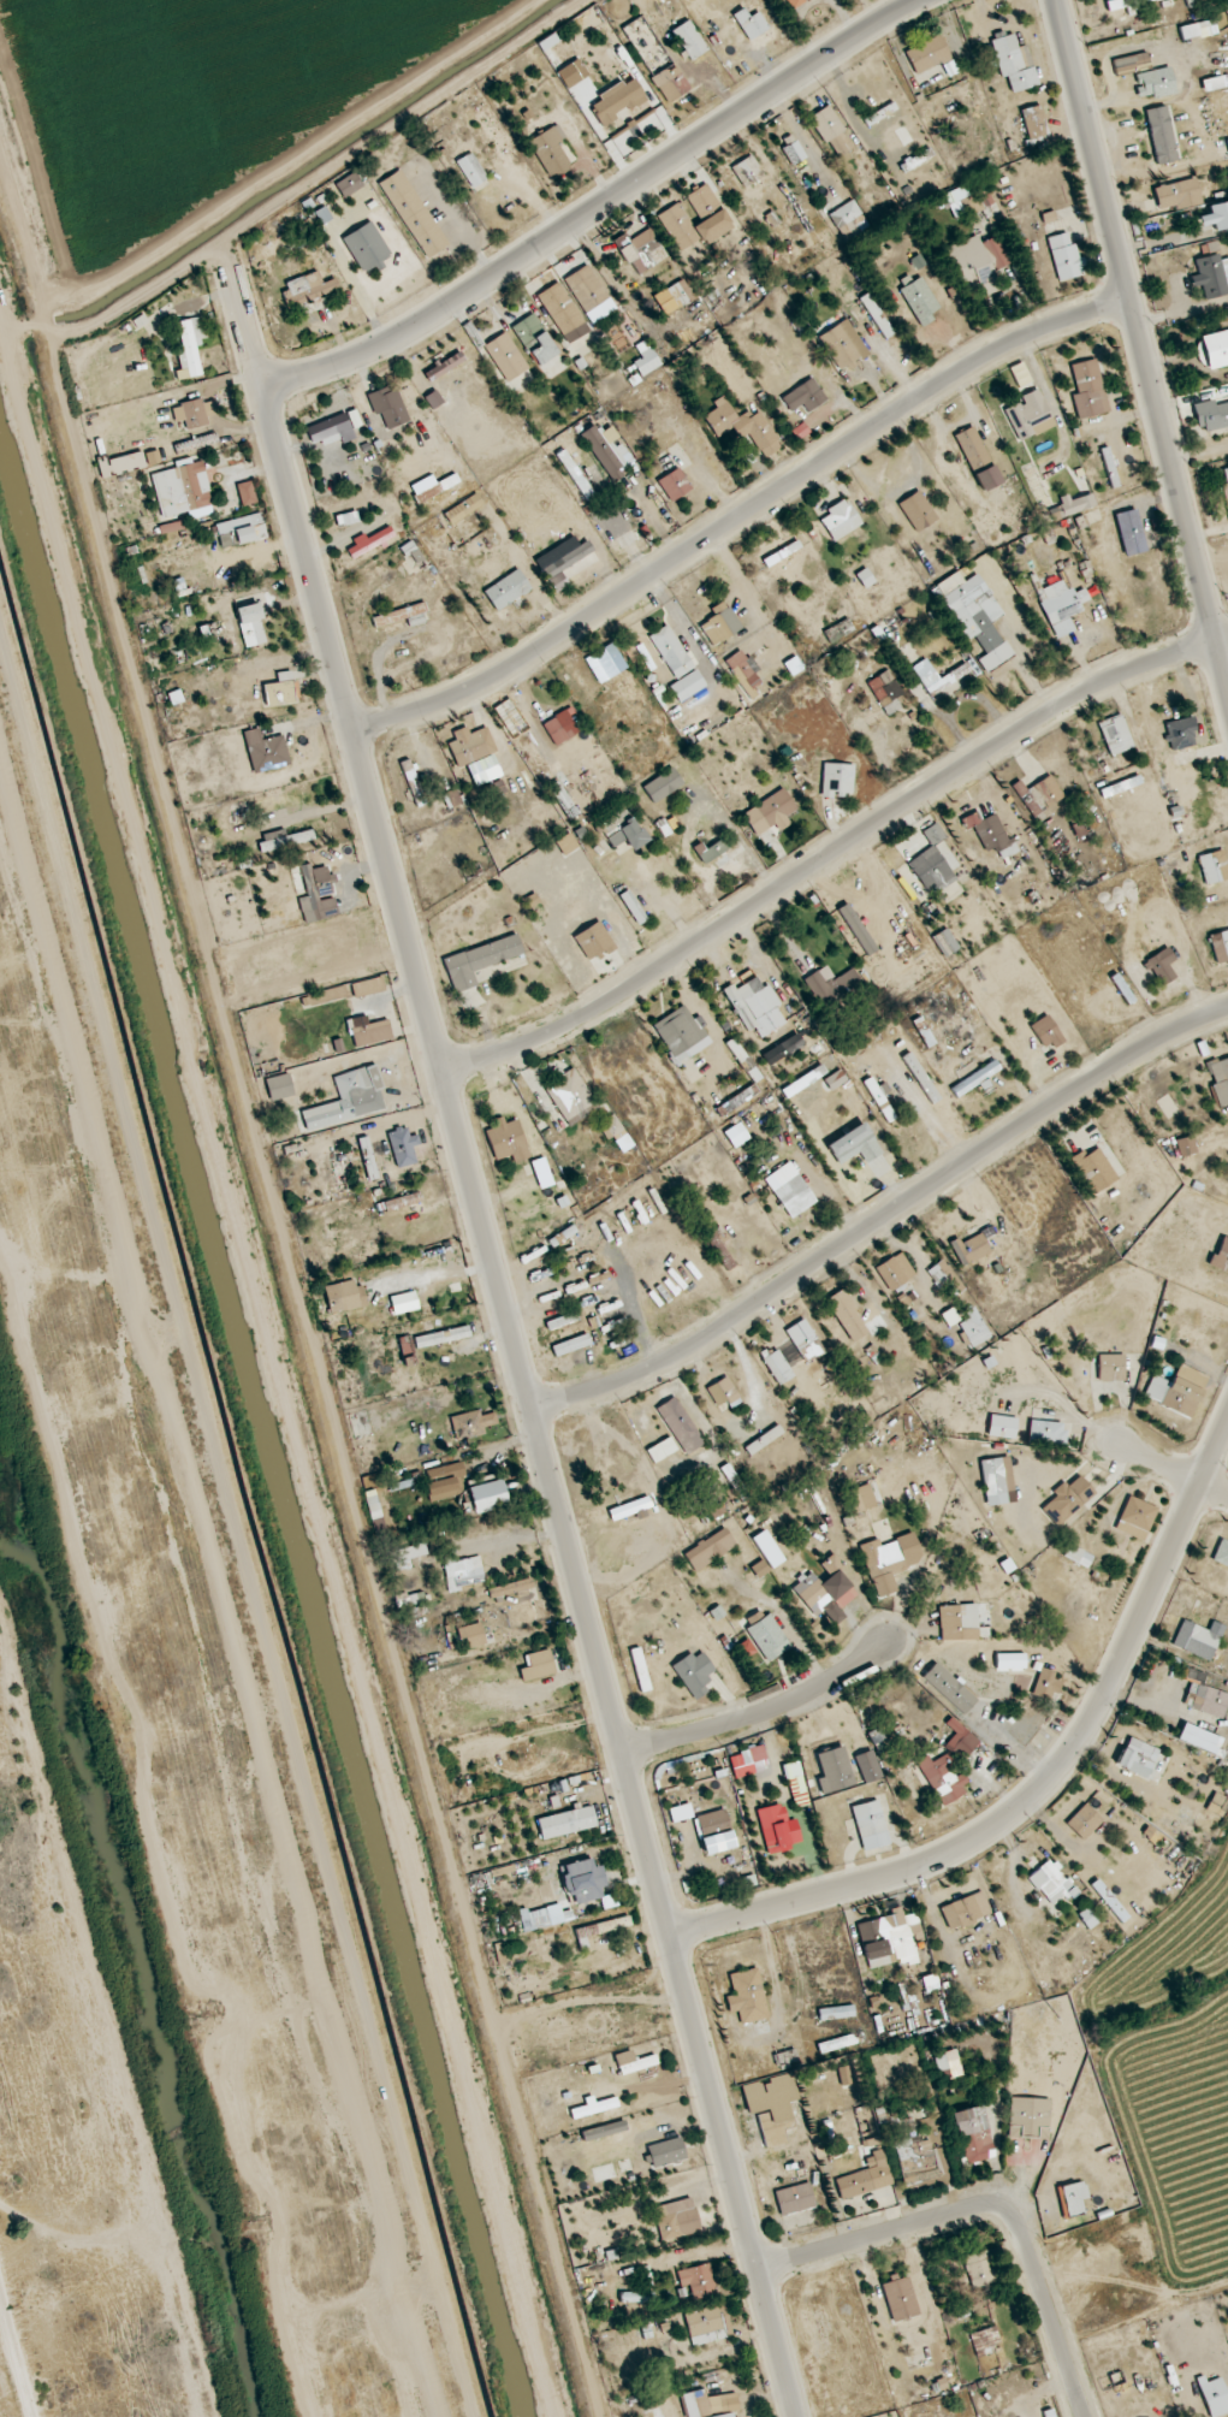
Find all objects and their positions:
building: (1193, 2)
building: (795, 4)
building: (1128, 4)
building: (751, 24)
building: (1198, 30)
building: (637, 35)
building: (689, 40)
building: (927, 54)
building: (1132, 64)
building: (1013, 65)
building: (670, 83)
building: (1155, 84)
building: (1034, 122)
building: (832, 131)
building: (1162, 135)
building: (551, 152)
building: (471, 171)
building: (747, 171)
building: (1177, 196)
building: (965, 202)
road: (595, 208)
building: (413, 214)
building: (327, 215)
building: (695, 218)
building: (1216, 218)
building: (848, 219)
building: (390, 236)
building: (641, 251)
building: (1067, 257)
building: (973, 266)
building: (1212, 269)
building: (307, 289)
building: (589, 294)
building: (680, 294)
building: (920, 301)
building: (560, 309)
building: (877, 316)
building: (535, 339)
building: (841, 344)
building: (190, 346)
road: (1141, 346)
building: (509, 361)
building: (646, 361)
building: (444, 367)
building: (1087, 389)
building: (805, 397)
building: (387, 408)
building: (1211, 414)
building: (189, 415)
building: (1028, 415)
building: (743, 426)
building: (328, 431)
building: (612, 448)
building: (977, 458)
building: (1109, 467)
building: (575, 474)
building: (675, 485)
building: (431, 487)
building: (1040, 492)
building: (247, 493)
building: (462, 509)
building: (918, 511)
road: (741, 516)
building: (1005, 516)
building: (840, 520)
building: (238, 531)
building: (1131, 532)
building: (609, 533)
building: (369, 541)
building: (782, 553)
building: (184, 557)
building: (568, 559)
building: (508, 590)
building: (1062, 603)
building: (403, 616)
building: (972, 617)
building: (719, 624)
building: (251, 626)
building: (838, 630)
building: (605, 663)
building: (677, 664)
building: (743, 677)
building: (942, 679)
building: (280, 691)
building: (885, 692)
building: (700, 717)
building: (554, 731)
building: (1181, 734)
building: (1115, 735)
building: (266, 752)
building: (475, 754)
building: (837, 781)
building: (413, 782)
building: (663, 784)
building: (493, 789)
building: (1039, 796)
building: (770, 812)
building: (618, 828)
building: (990, 834)
building: (285, 840)
building: (710, 851)
road: (832, 852)
building: (936, 863)
building: (1215, 867)
building: (316, 885)
building: (633, 907)
building: (594, 942)
building: (945, 943)
building: (1220, 946)
building: (479, 961)
building: (1161, 966)
building: (832, 985)
building: (367, 988)
building: (757, 1006)
building: (372, 1032)
building: (680, 1032)
building: (1046, 1033)
building: (788, 1045)
building: (1227, 1060)
building: (975, 1079)
building: (570, 1097)
building: (735, 1136)
building: (506, 1141)
building: (854, 1145)
building: (404, 1148)
building: (368, 1157)
building: (1093, 1168)
building: (794, 1197)
building: (402, 1202)
road: (884, 1218)
road: (878, 1232)
building: (971, 1248)
building: (720, 1250)
building: (895, 1272)
road: (924, 1272)
building: (944, 1278)
building: (343, 1297)
building: (409, 1308)
building: (848, 1315)
building: (973, 1332)
road: (511, 1334)
road: (730, 1334)
building: (441, 1337)
building: (805, 1339)
building: (405, 1345)
building: (571, 1345)
building: (776, 1364)
building: (1111, 1368)
road: (671, 1370)
road: (749, 1386)
building: (723, 1392)
building: (1174, 1394)
building: (681, 1424)
road: (700, 1427)
building: (1048, 1432)
road: (1127, 1467)
road: (1174, 1469)
building: (993, 1477)
building: (1066, 1499)
building: (630, 1510)
road: (1078, 1512)
building: (1135, 1518)
building: (707, 1547)
building: (1078, 1556)
building: (883, 1559)
building: (823, 1590)
building: (528, 1607)
building: (959, 1622)
building: (769, 1637)
building: (1198, 1640)
building: (1010, 1663)
building: (539, 1666)
building: (694, 1672)
building: (1046, 1686)
building: (950, 1688)
building: (1206, 1700)
road: (760, 1714)
building: (959, 1735)
building: (753, 1755)
building: (1144, 1761)
road: (297, 1769)
building: (943, 1778)
building: (796, 1785)
road: (1042, 1787)
building: (1218, 1806)
building: (870, 1820)
building: (1085, 1821)
building: (566, 1823)
building: (714, 1831)
building: (782, 1836)
building: (582, 1882)
building: (1052, 1883)
building: (966, 1911)
building: (534, 1919)
river: (130, 1923)
building: (603, 1929)
building: (890, 1939)
building: (747, 1996)
building: (841, 2042)
building: (785, 2058)
building: (633, 2063)
building: (948, 2064)
building: (594, 2108)
building: (1028, 2119)
building: (779, 2126)
building: (973, 2135)
building: (666, 2152)
building: (916, 2162)
building: (866, 2179)
building: (795, 2199)
building: (1074, 2200)
road: (989, 2206)
building: (677, 2225)
building: (978, 2270)
building: (698, 2281)
building: (900, 2299)
building: (707, 2324)
building: (1206, 2335)
building: (986, 2342)
building: (1168, 2354)
building: (1215, 2397)
building: (707, 2404)

